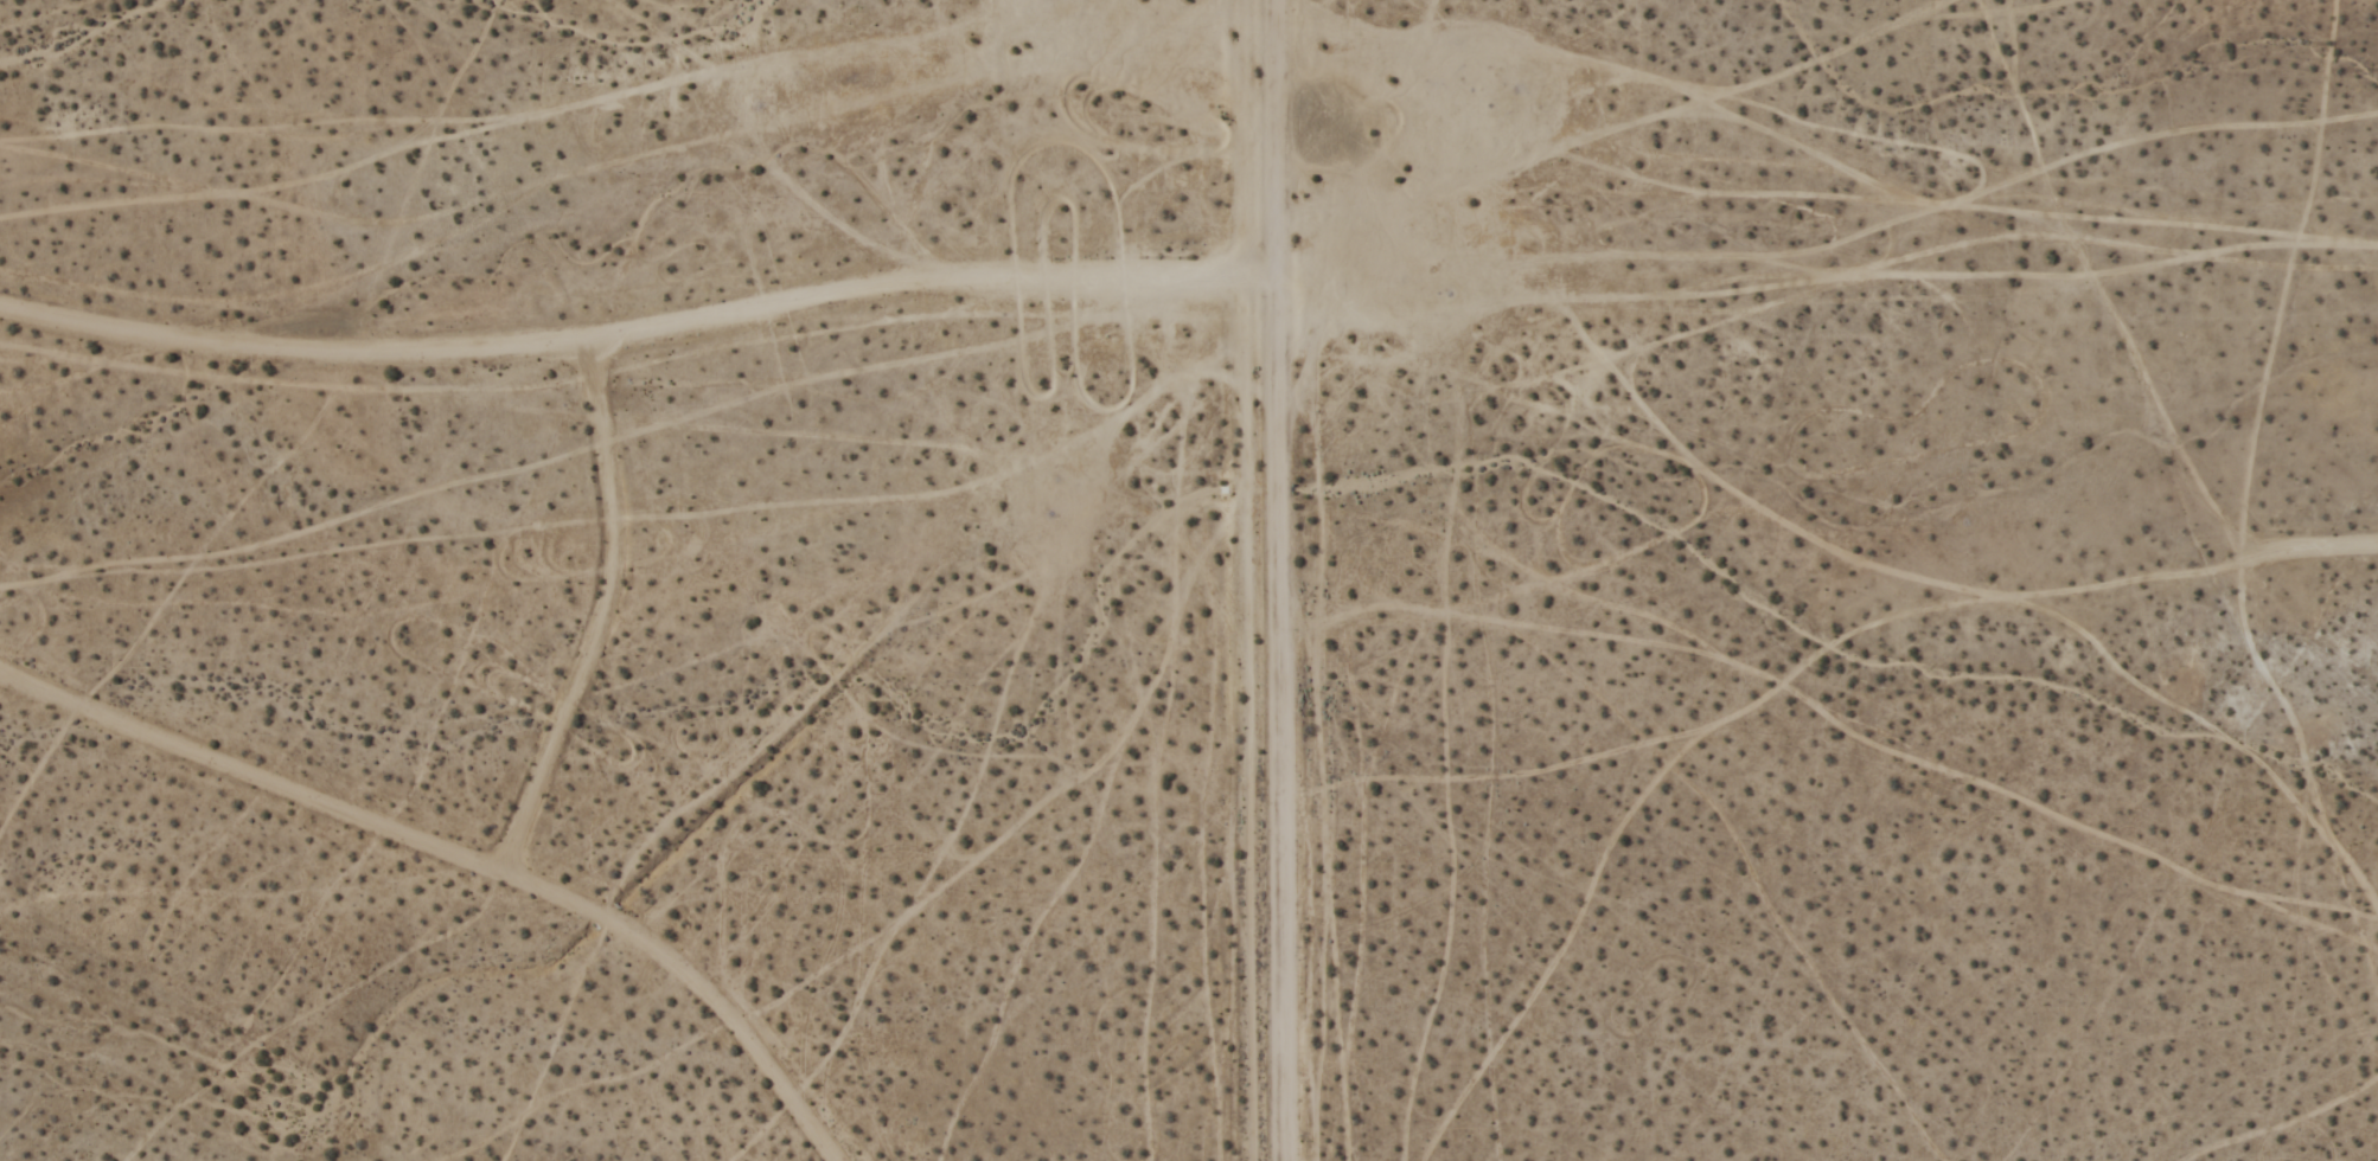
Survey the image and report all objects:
road: (640, 335)
road: (1258, 579)
road: (1284, 579)
road: (605, 618)
crop: (1207, 627)
road: (459, 858)

